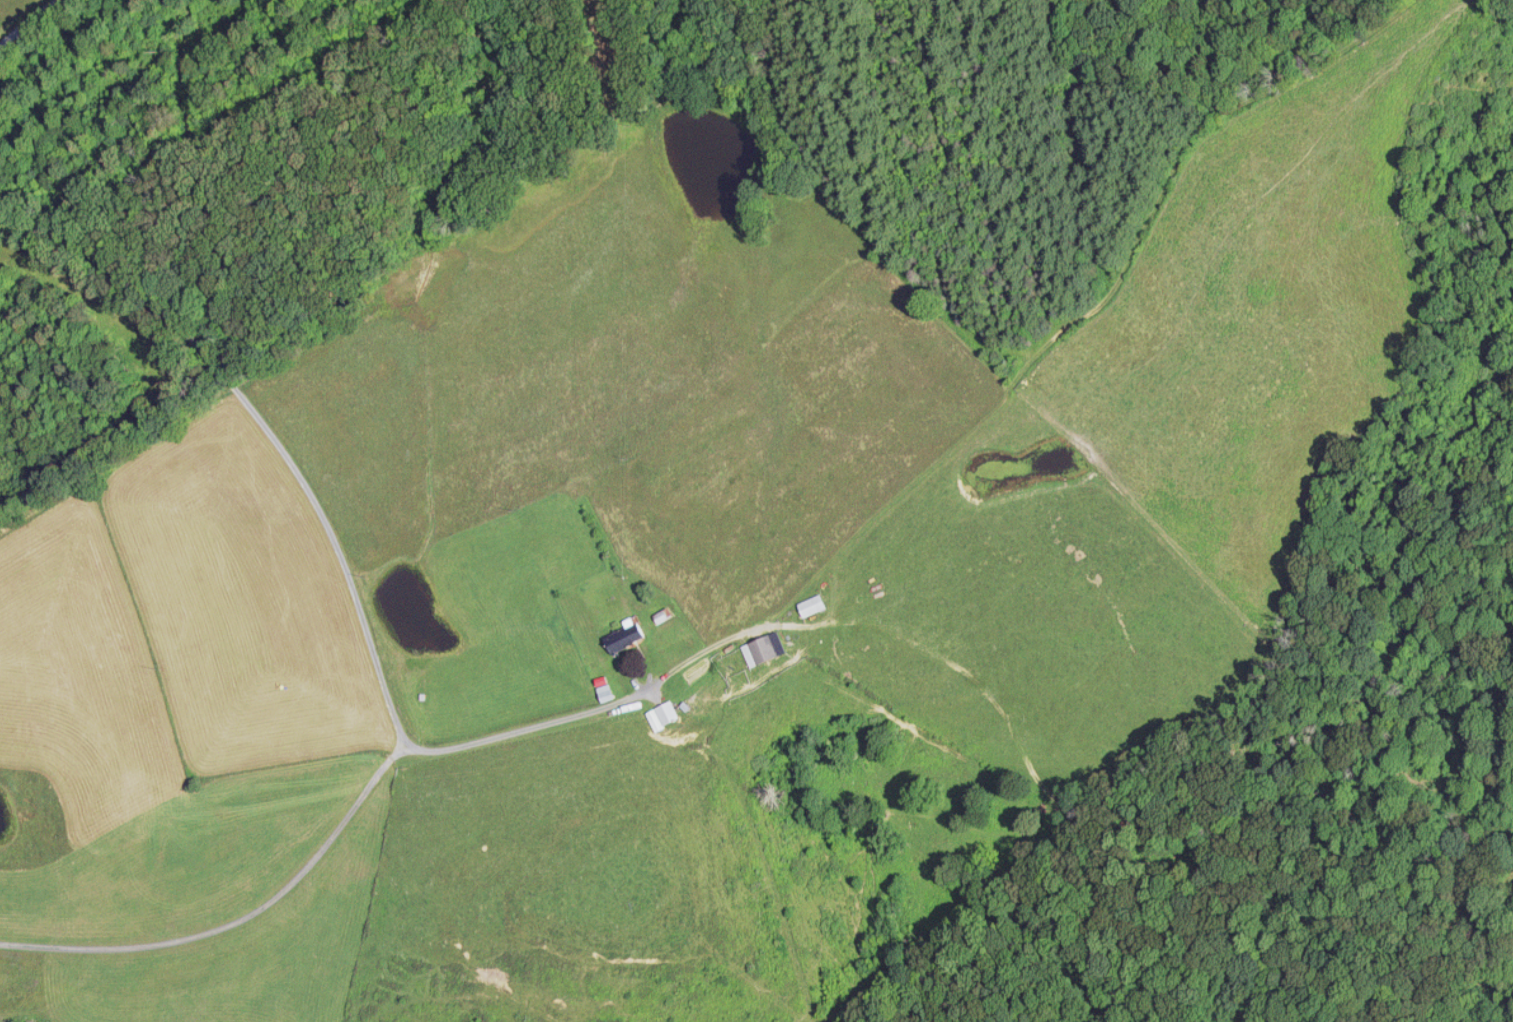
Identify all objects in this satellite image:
road: (27, 24)
building: (807, 606)
road: (725, 635)
building: (619, 636)
building: (758, 649)
building: (655, 715)
road: (238, 918)

